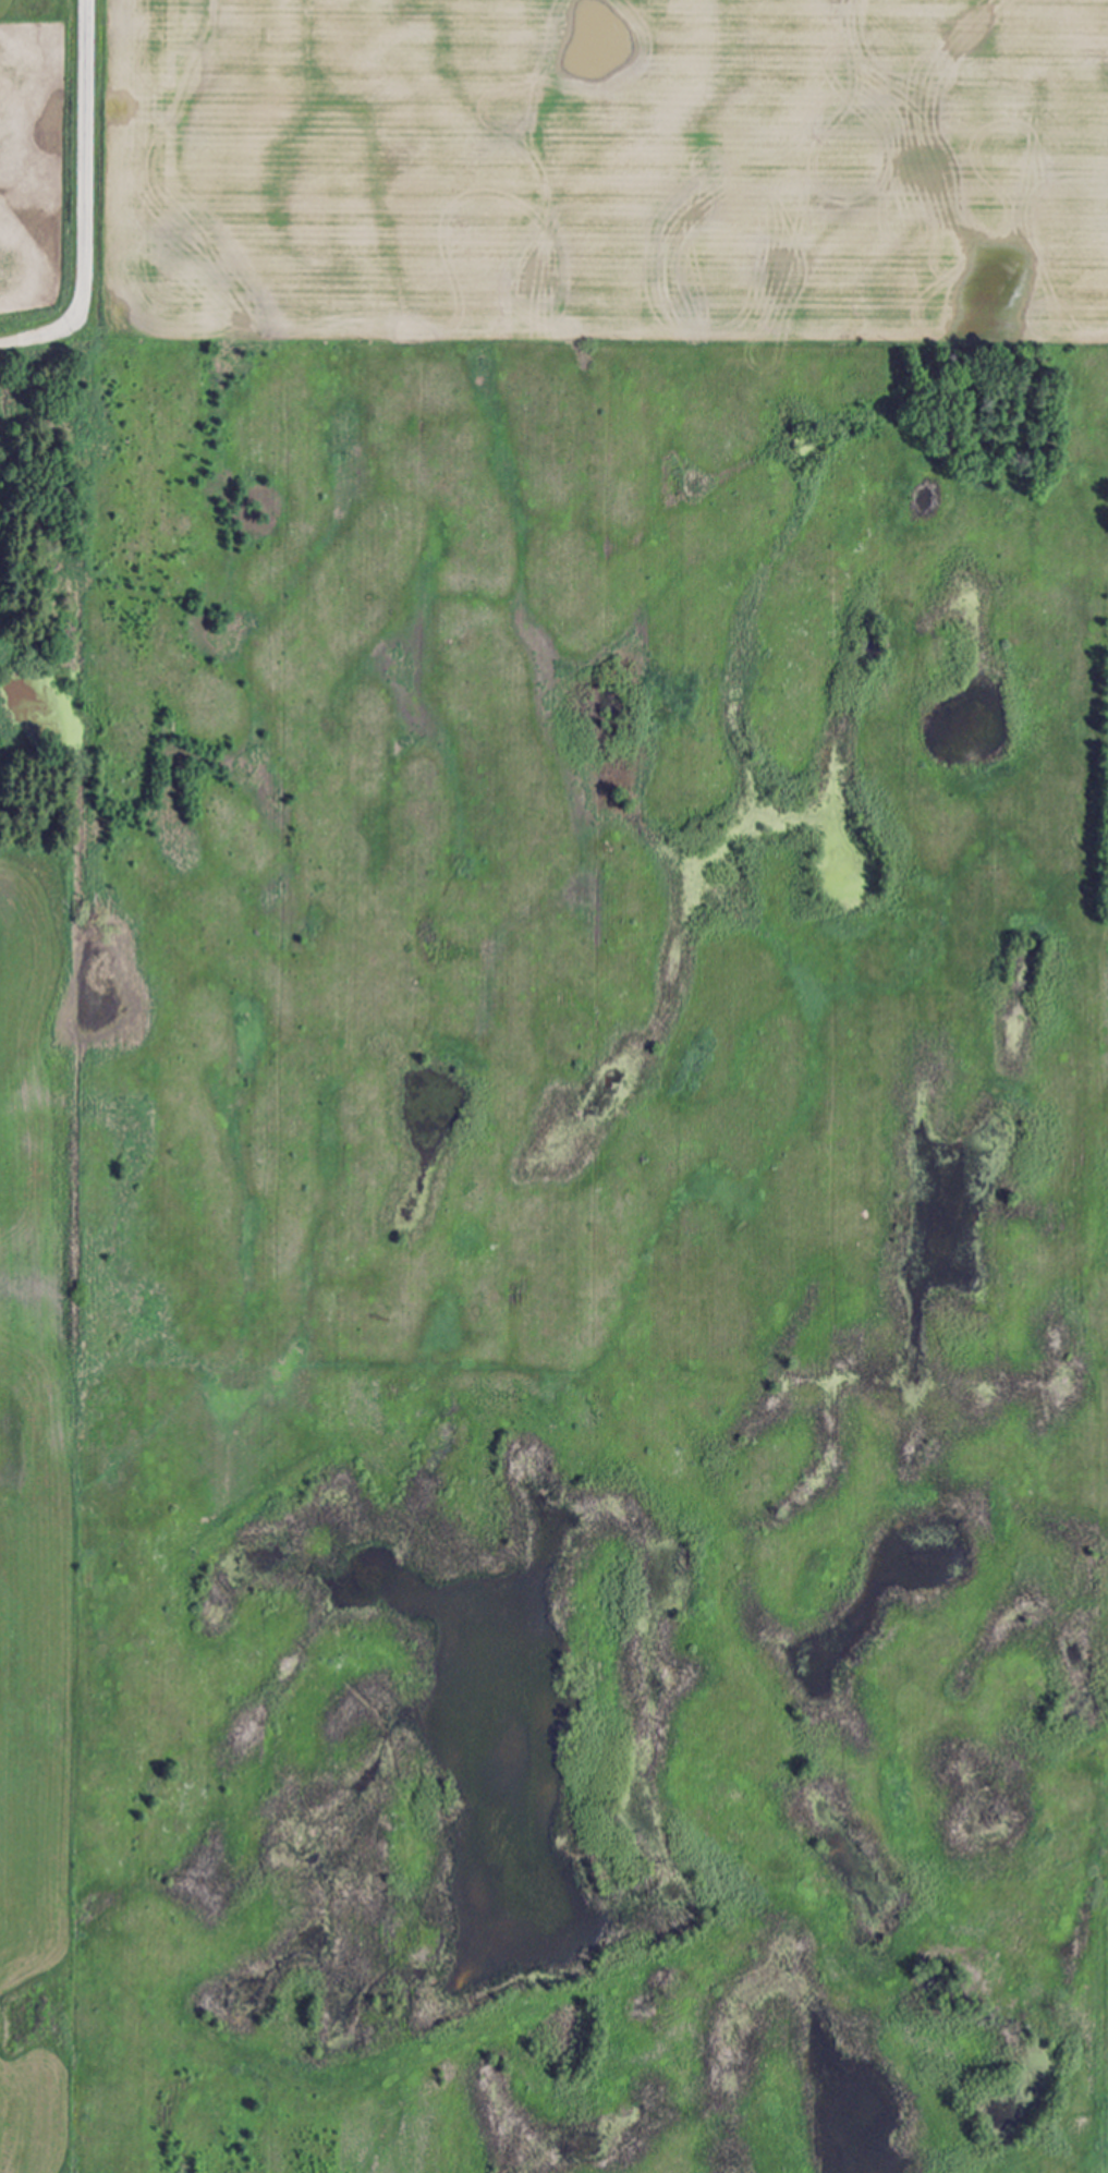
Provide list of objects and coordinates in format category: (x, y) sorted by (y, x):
road: (88, 199)

